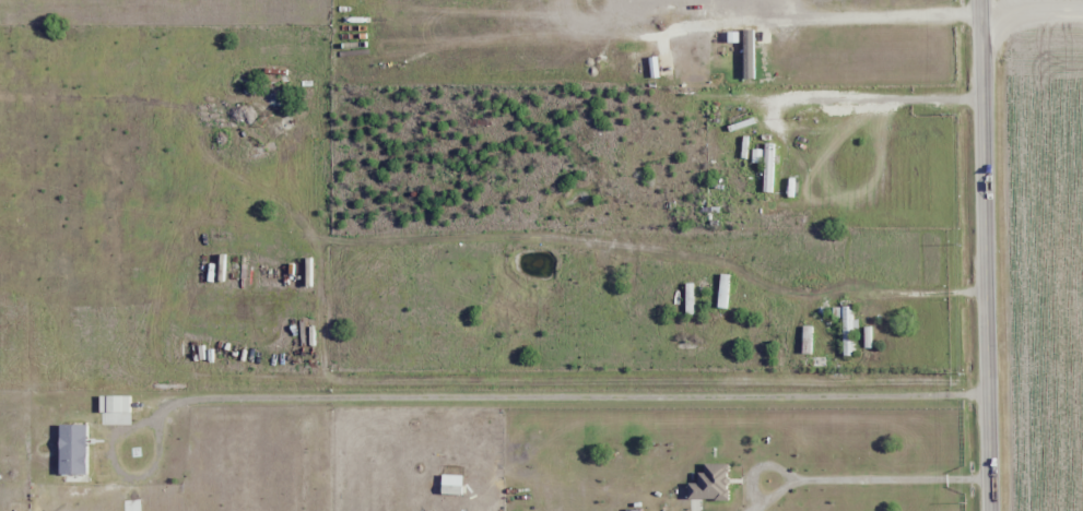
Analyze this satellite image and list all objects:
building: (767, 167)
crop: (1046, 250)
road: (990, 254)
building: (602, 295)
building: (721, 295)
building: (687, 298)
building: (846, 329)
building: (71, 449)
road: (828, 480)
building: (450, 488)

